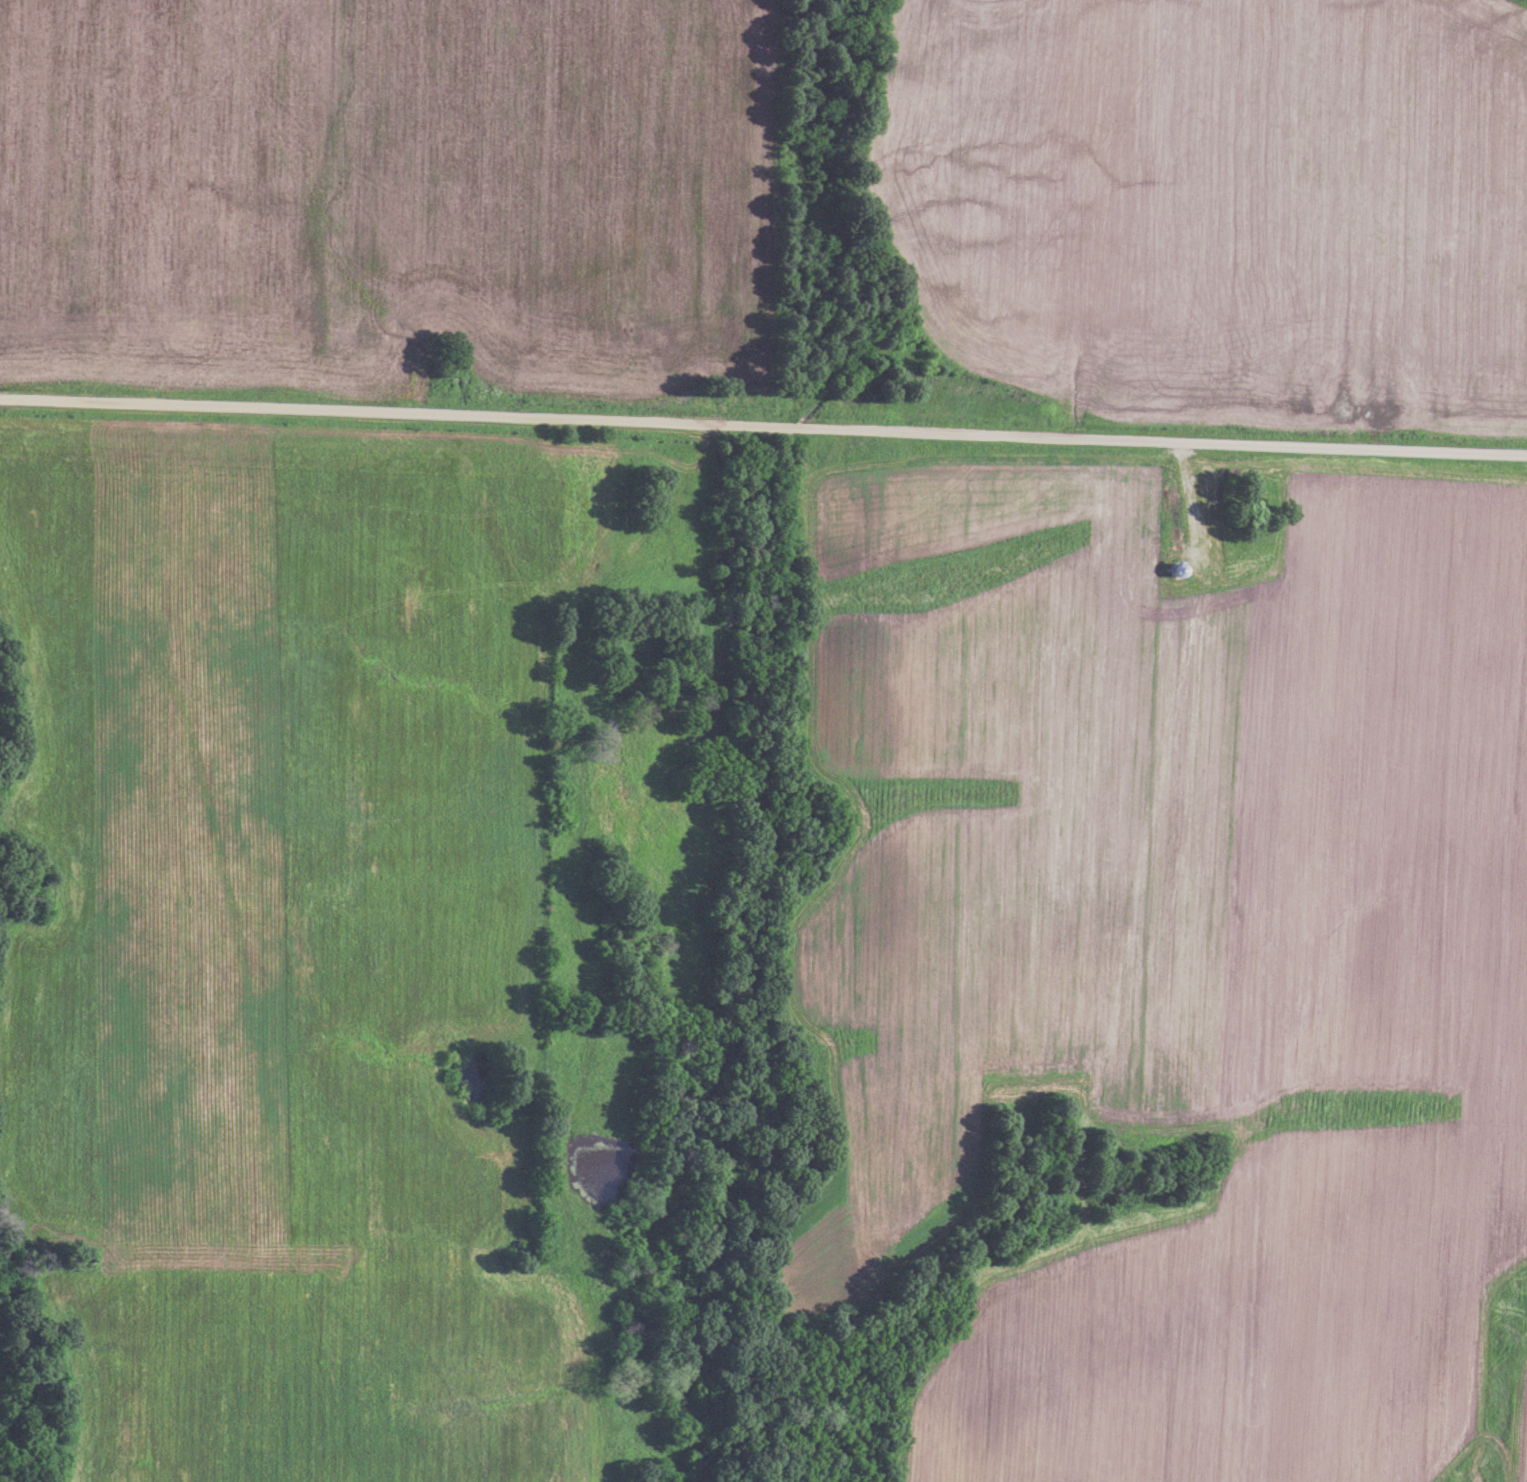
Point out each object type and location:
road: (763, 427)

